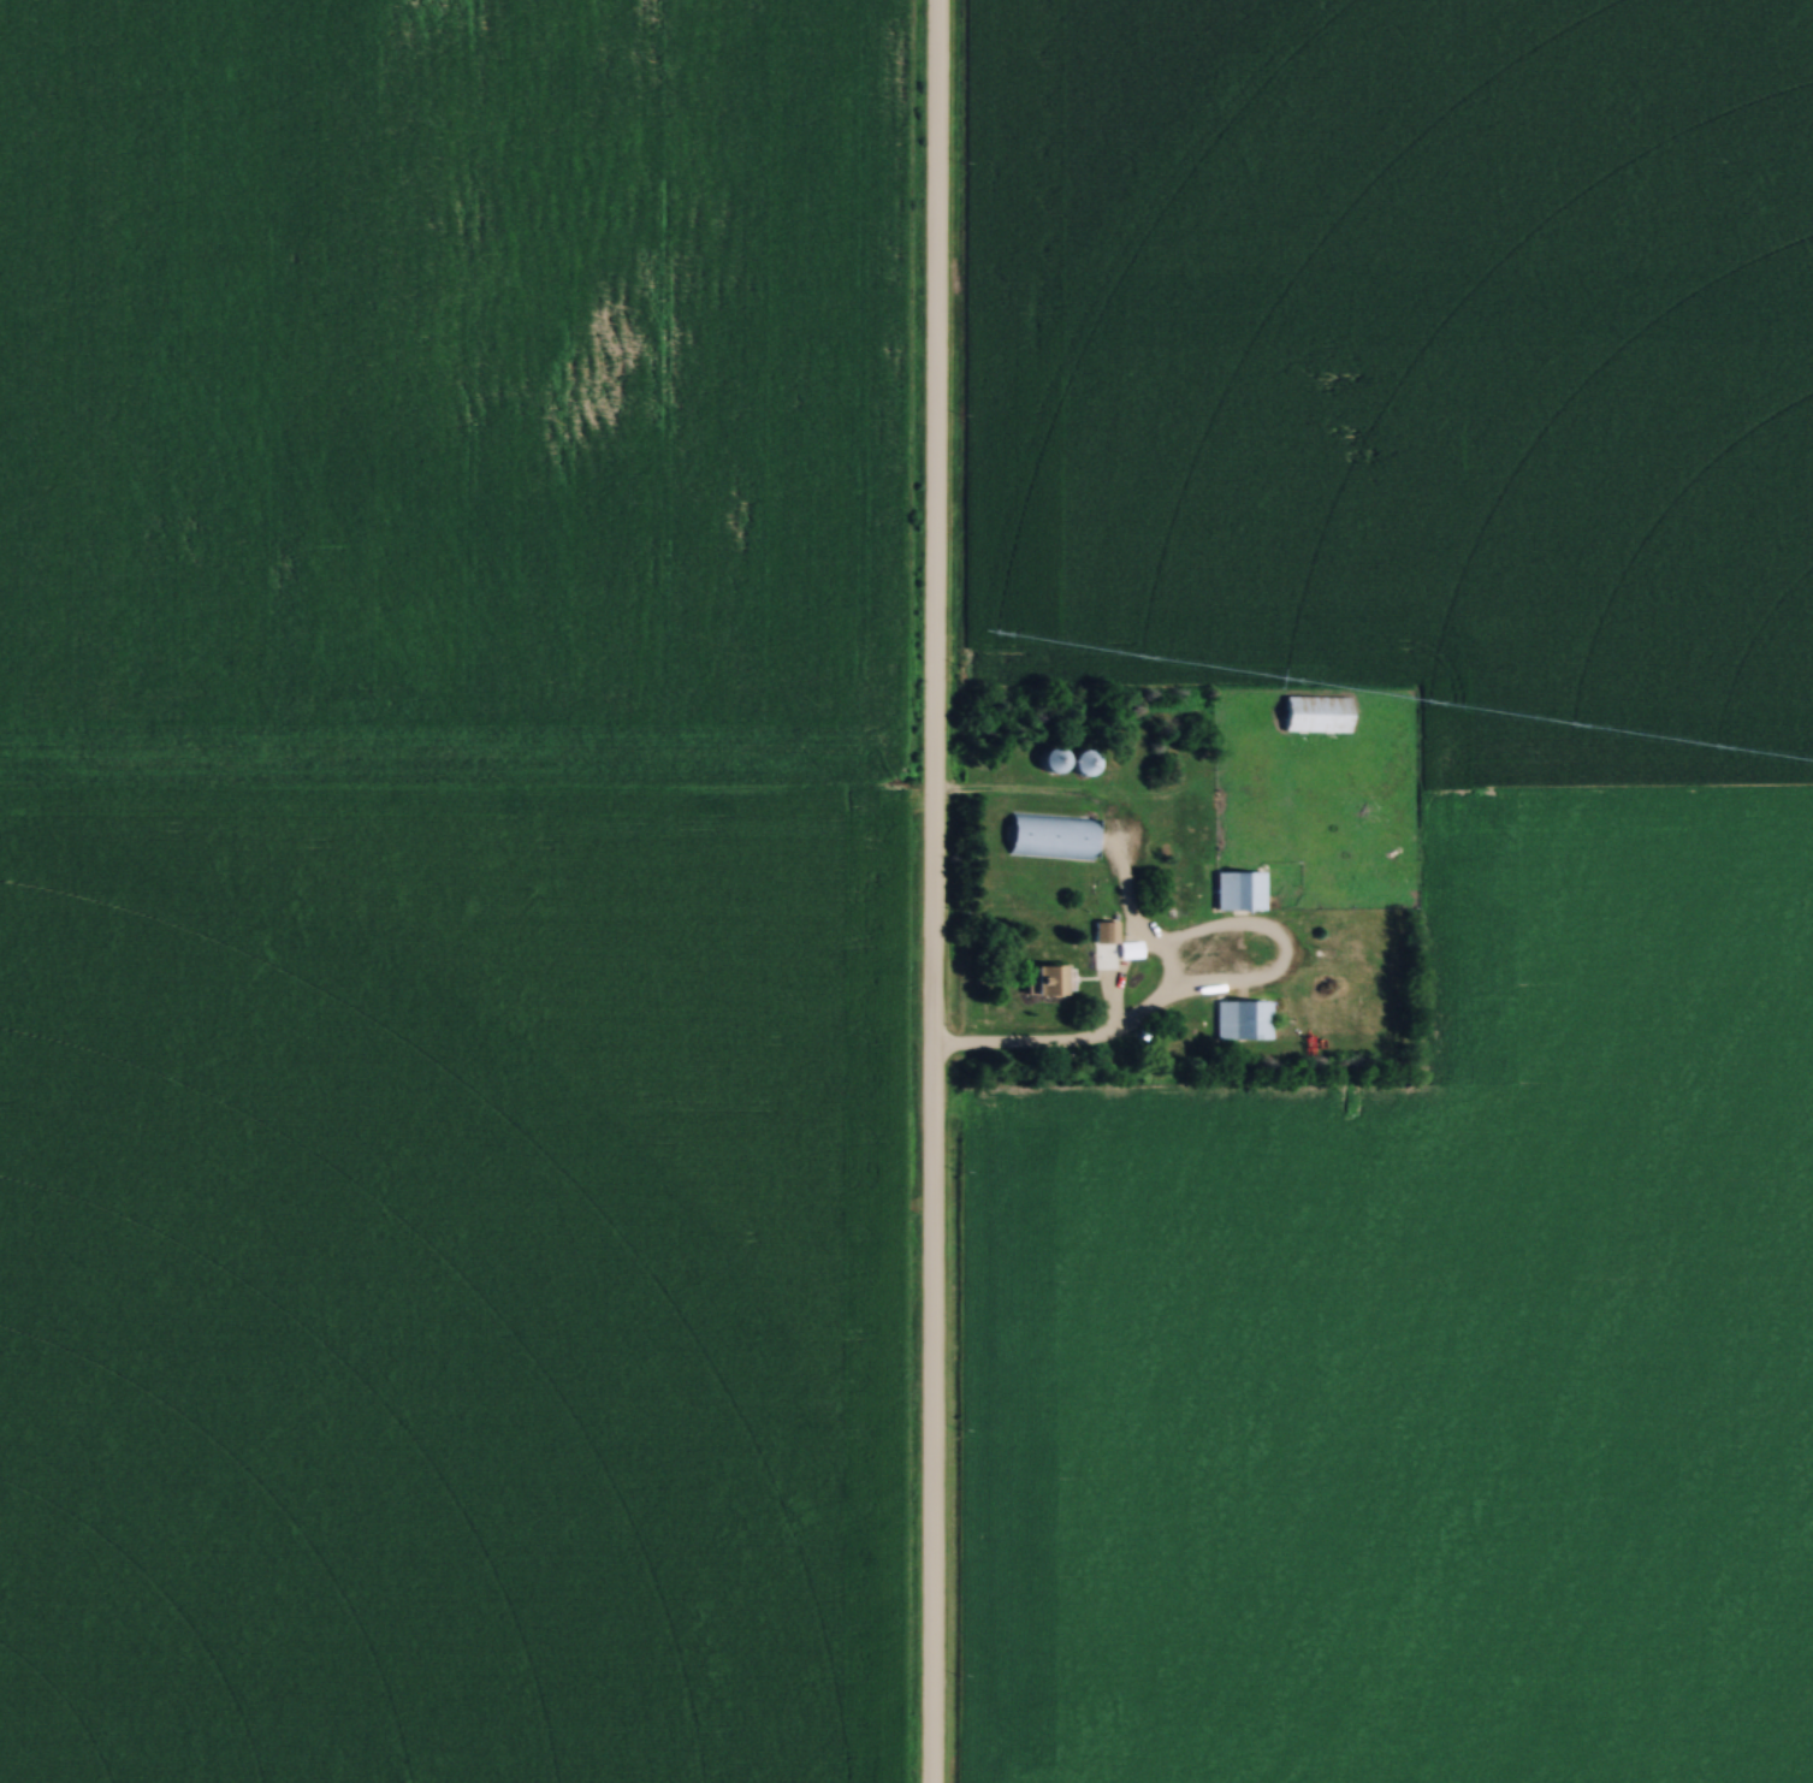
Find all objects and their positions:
building: (1315, 713)
building: (1051, 760)
building: (1084, 762)
building: (1049, 836)
building: (1237, 890)
road: (931, 892)
building: (1103, 931)
building: (1042, 981)
building: (1240, 1020)
road: (1039, 1048)

